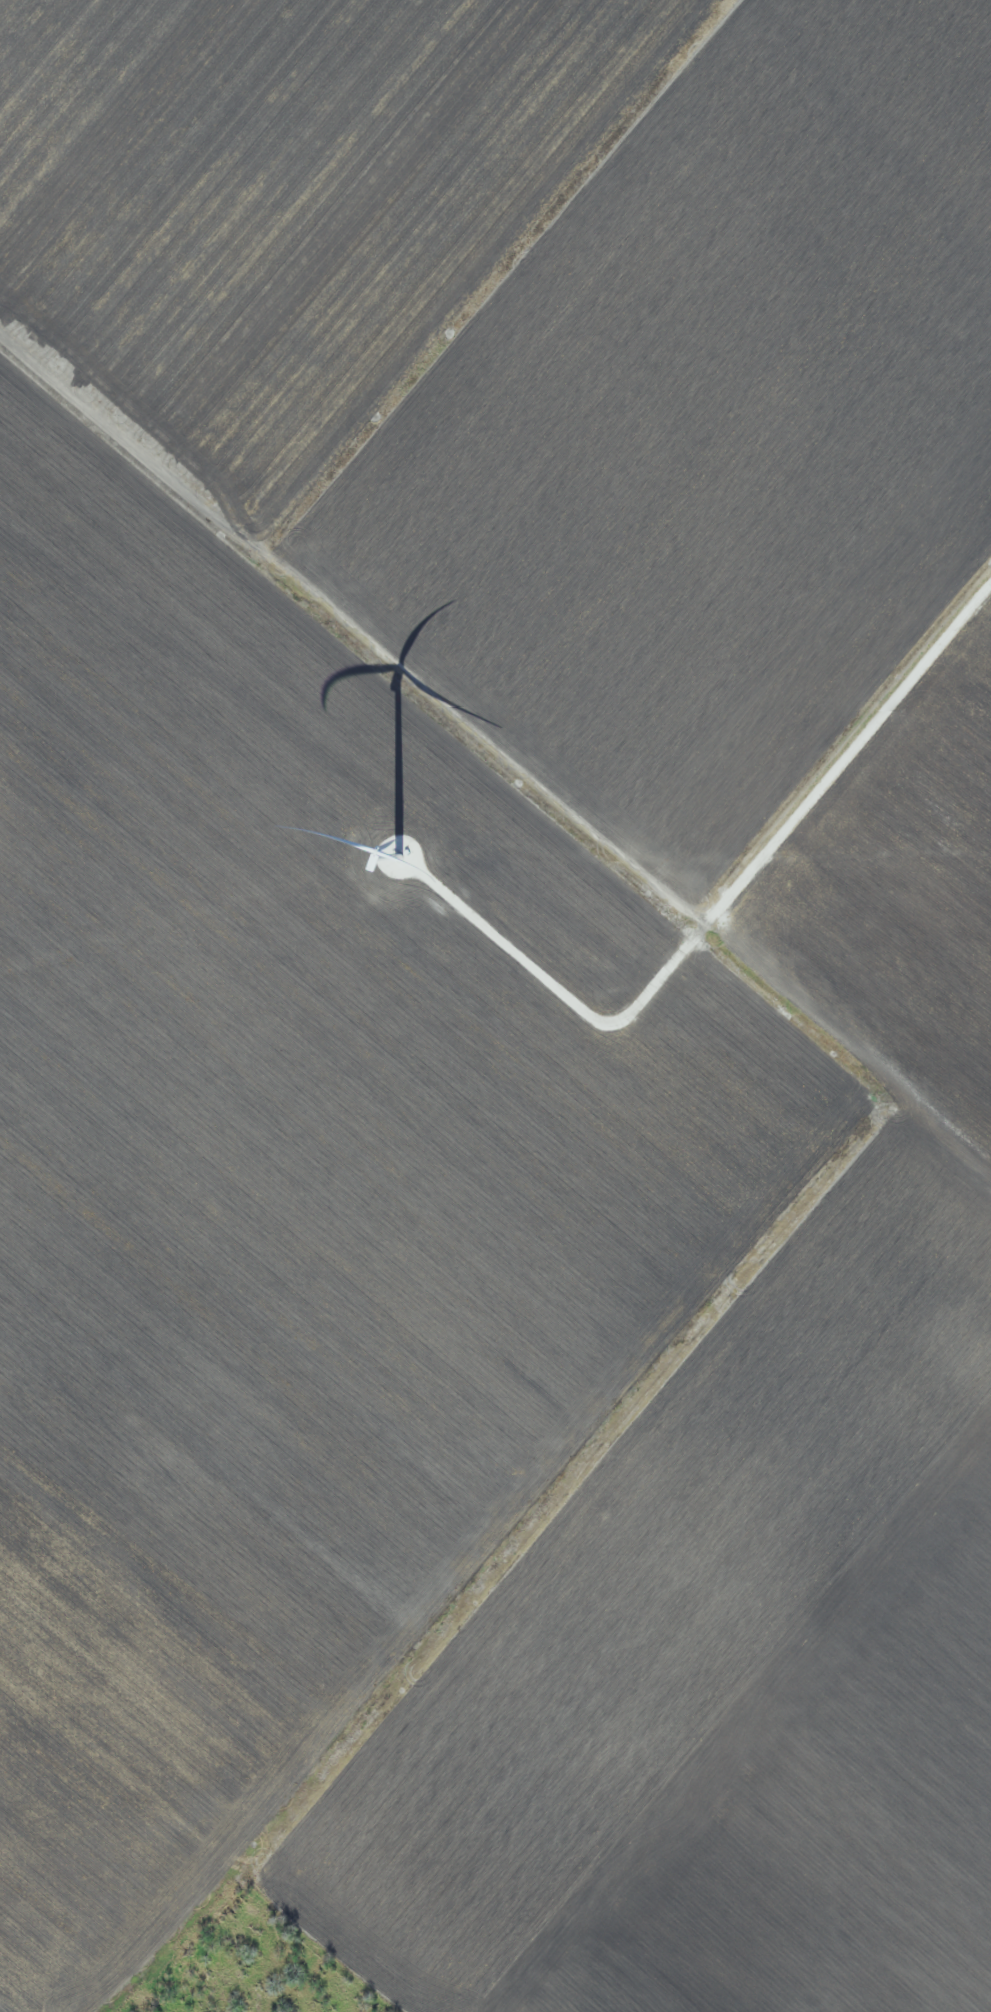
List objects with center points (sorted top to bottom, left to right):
wind turbine: (398, 851)

